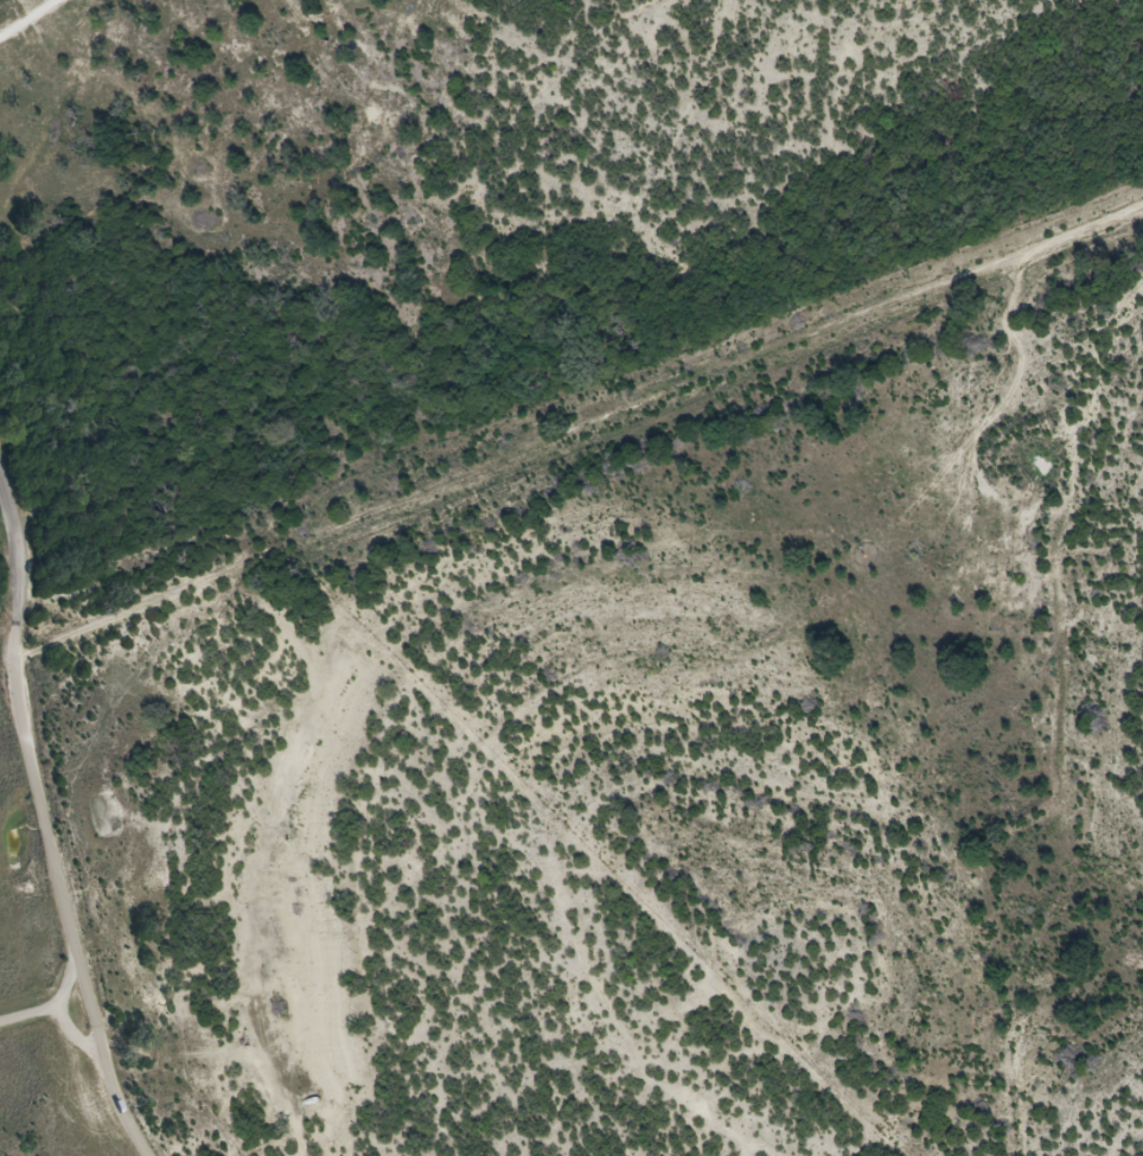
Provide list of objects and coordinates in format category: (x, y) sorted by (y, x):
road: (33, 21)
road: (576, 424)
road: (19, 569)
road: (66, 908)
road: (60, 1013)
road: (28, 1014)

